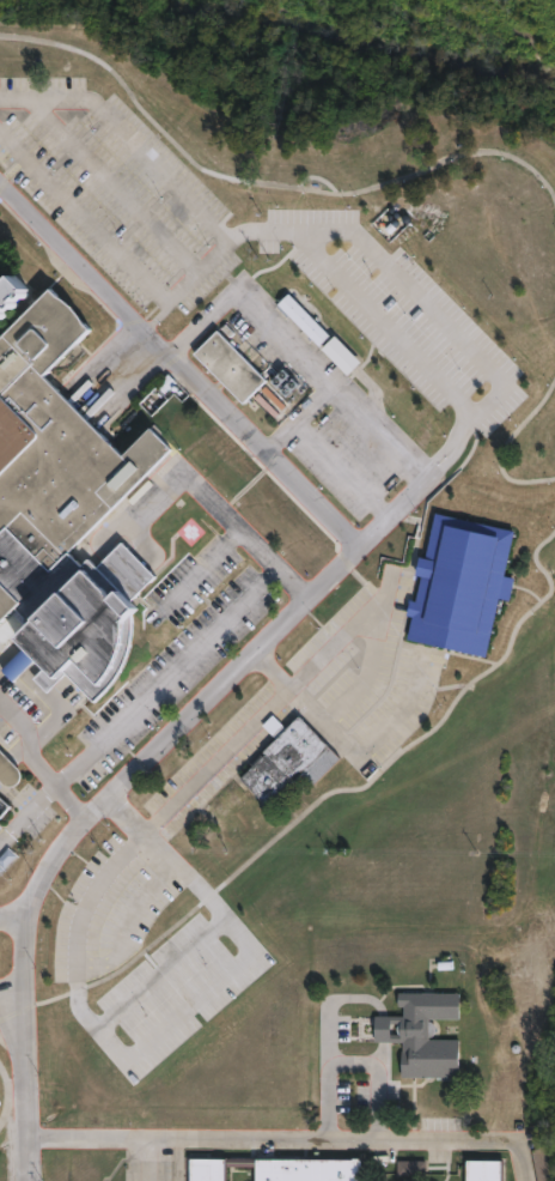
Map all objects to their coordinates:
road: (128, 135)
road: (14, 169)
road: (116, 182)
road: (273, 187)
road: (83, 212)
building: (385, 223)
road: (429, 309)
road: (382, 313)
building: (300, 320)
road: (287, 343)
building: (232, 369)
road: (378, 436)
road: (502, 443)
road: (344, 470)
building: (61, 502)
road: (219, 514)
helipad: (189, 531)
road: (360, 553)
road: (203, 570)
building: (457, 585)
road: (386, 628)
road: (48, 696)
road: (136, 703)
road: (10, 729)
road: (346, 737)
road: (233, 741)
road: (13, 747)
road: (4, 757)
building: (286, 763)
building: (10, 769)
road: (51, 782)
road: (322, 798)
building: (221, 807)
building: (4, 808)
building: (246, 823)
road: (142, 901)
road: (104, 961)
road: (20, 967)
road: (163, 969)
road: (172, 1024)
building: (415, 1034)
road: (349, 1062)
road: (22, 1076)
road: (7, 1094)
building: (1, 1102)
road: (268, 1140)
building: (410, 1167)
building: (272, 1169)
building: (481, 1170)

